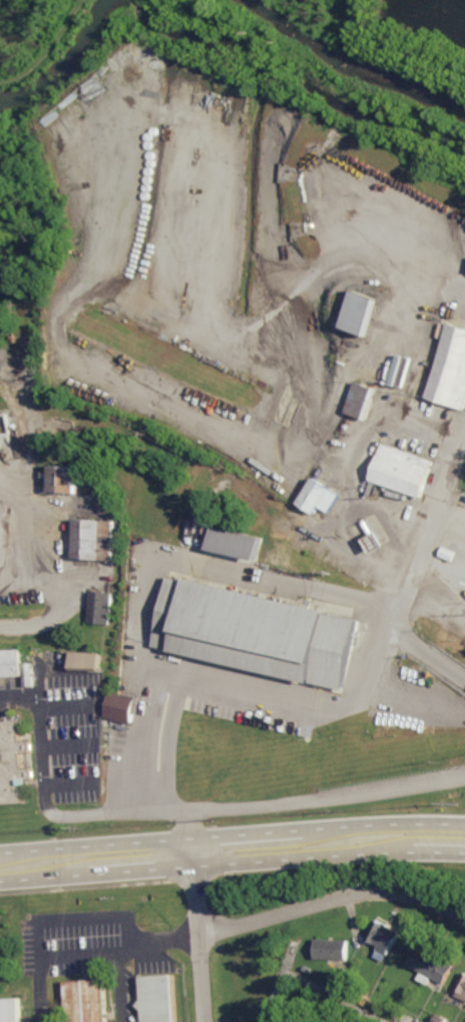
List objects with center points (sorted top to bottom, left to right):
road: (362, 10)
road: (383, 37)
road: (47, 49)
park: (336, 62)
building: (364, 312)
road: (291, 345)
building: (451, 370)
building: (362, 400)
building: (401, 470)
building: (64, 478)
road: (448, 487)
building: (318, 497)
building: (94, 539)
building: (237, 543)
road: (429, 555)
road: (150, 574)
road: (56, 583)
building: (100, 607)
road: (407, 620)
building: (256, 630)
building: (88, 661)
building: (11, 663)
building: (30, 674)
road: (315, 699)
building: (122, 706)
building: (14, 763)
road: (310, 795)
road: (47, 805)
road: (232, 835)
road: (232, 865)
road: (85, 886)
road: (333, 902)
road: (199, 930)
building: (384, 938)
road: (160, 945)
building: (332, 948)
road: (50, 958)
road: (287, 966)
building: (432, 966)
road: (121, 988)
building: (461, 989)
road: (333, 996)
building: (158, 997)
road: (277, 997)
building: (85, 1000)
building: (11, 1009)
building: (440, 1019)

